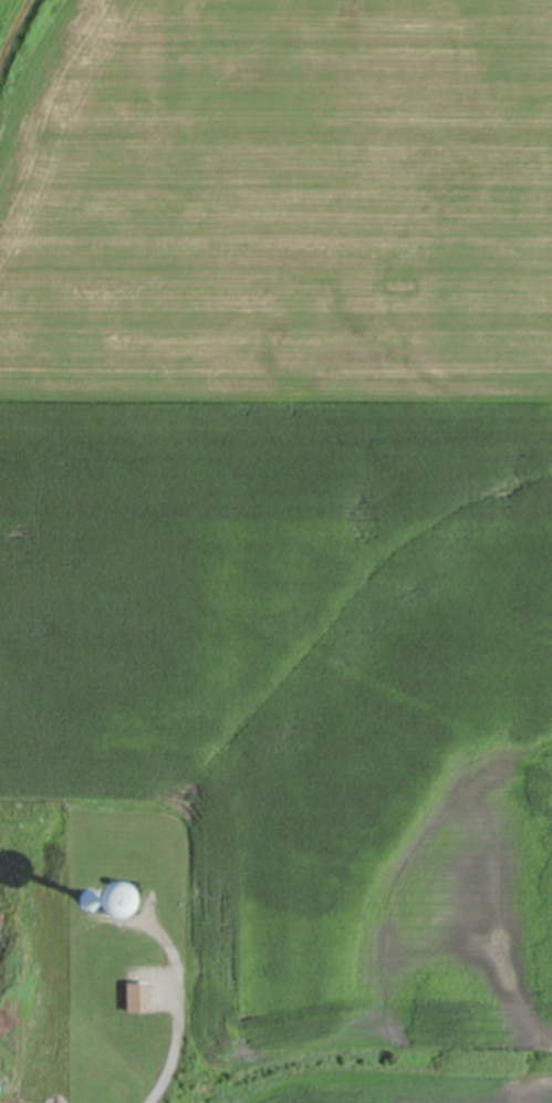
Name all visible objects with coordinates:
crop: (294, 508)
building: (59, 897)
water tower: (96, 897)
building: (83, 903)
park: (105, 959)
building: (132, 999)
road: (175, 1034)

